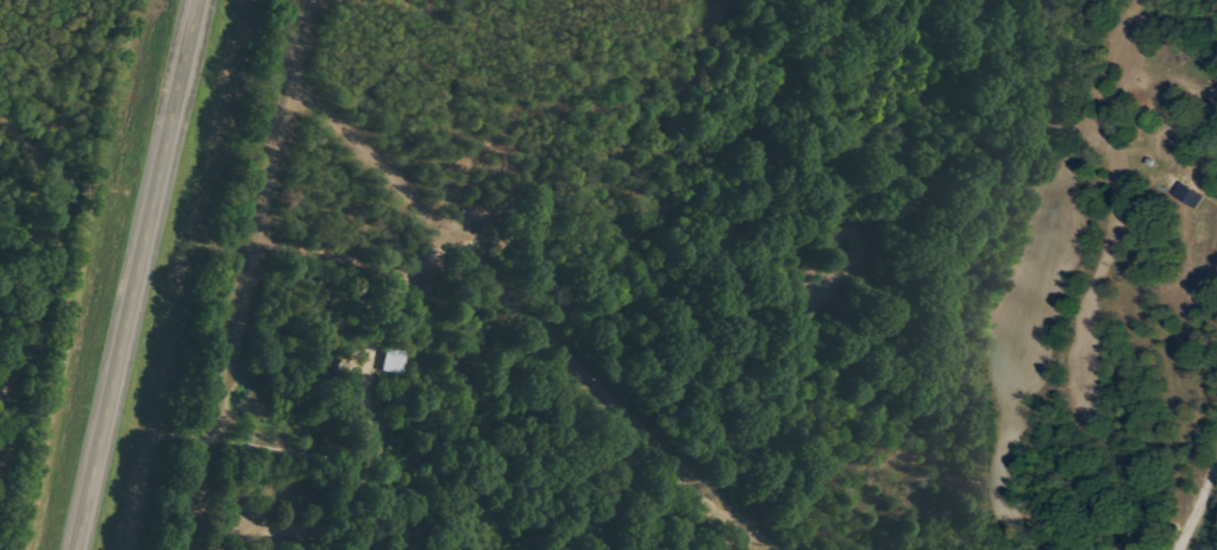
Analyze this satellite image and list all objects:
road: (137, 274)
road: (1198, 512)

